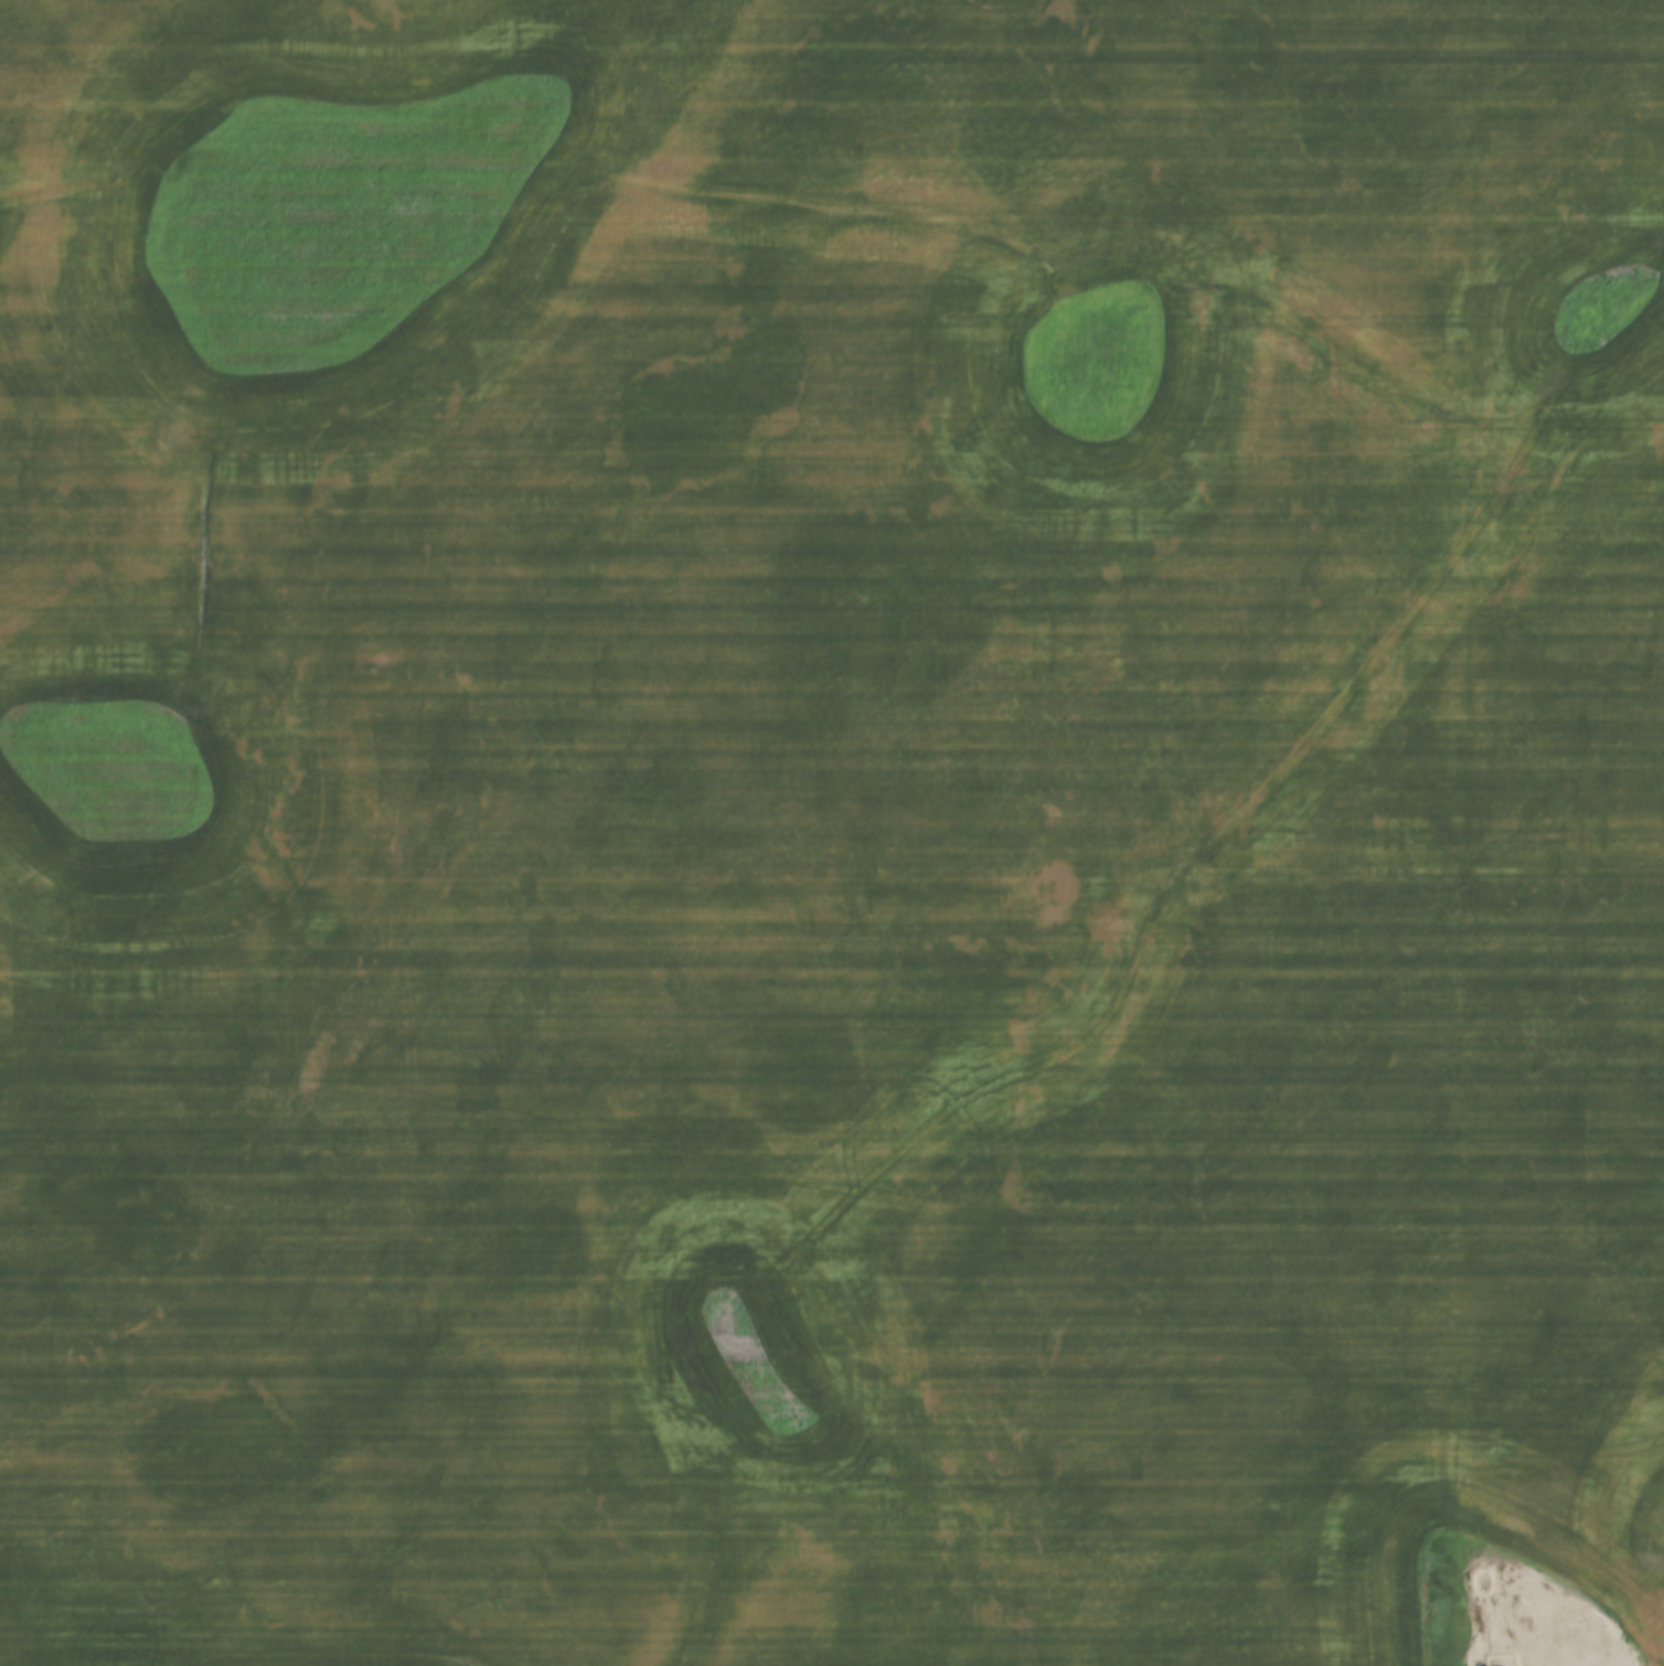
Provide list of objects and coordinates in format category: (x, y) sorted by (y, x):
road: (1543, 1648)

